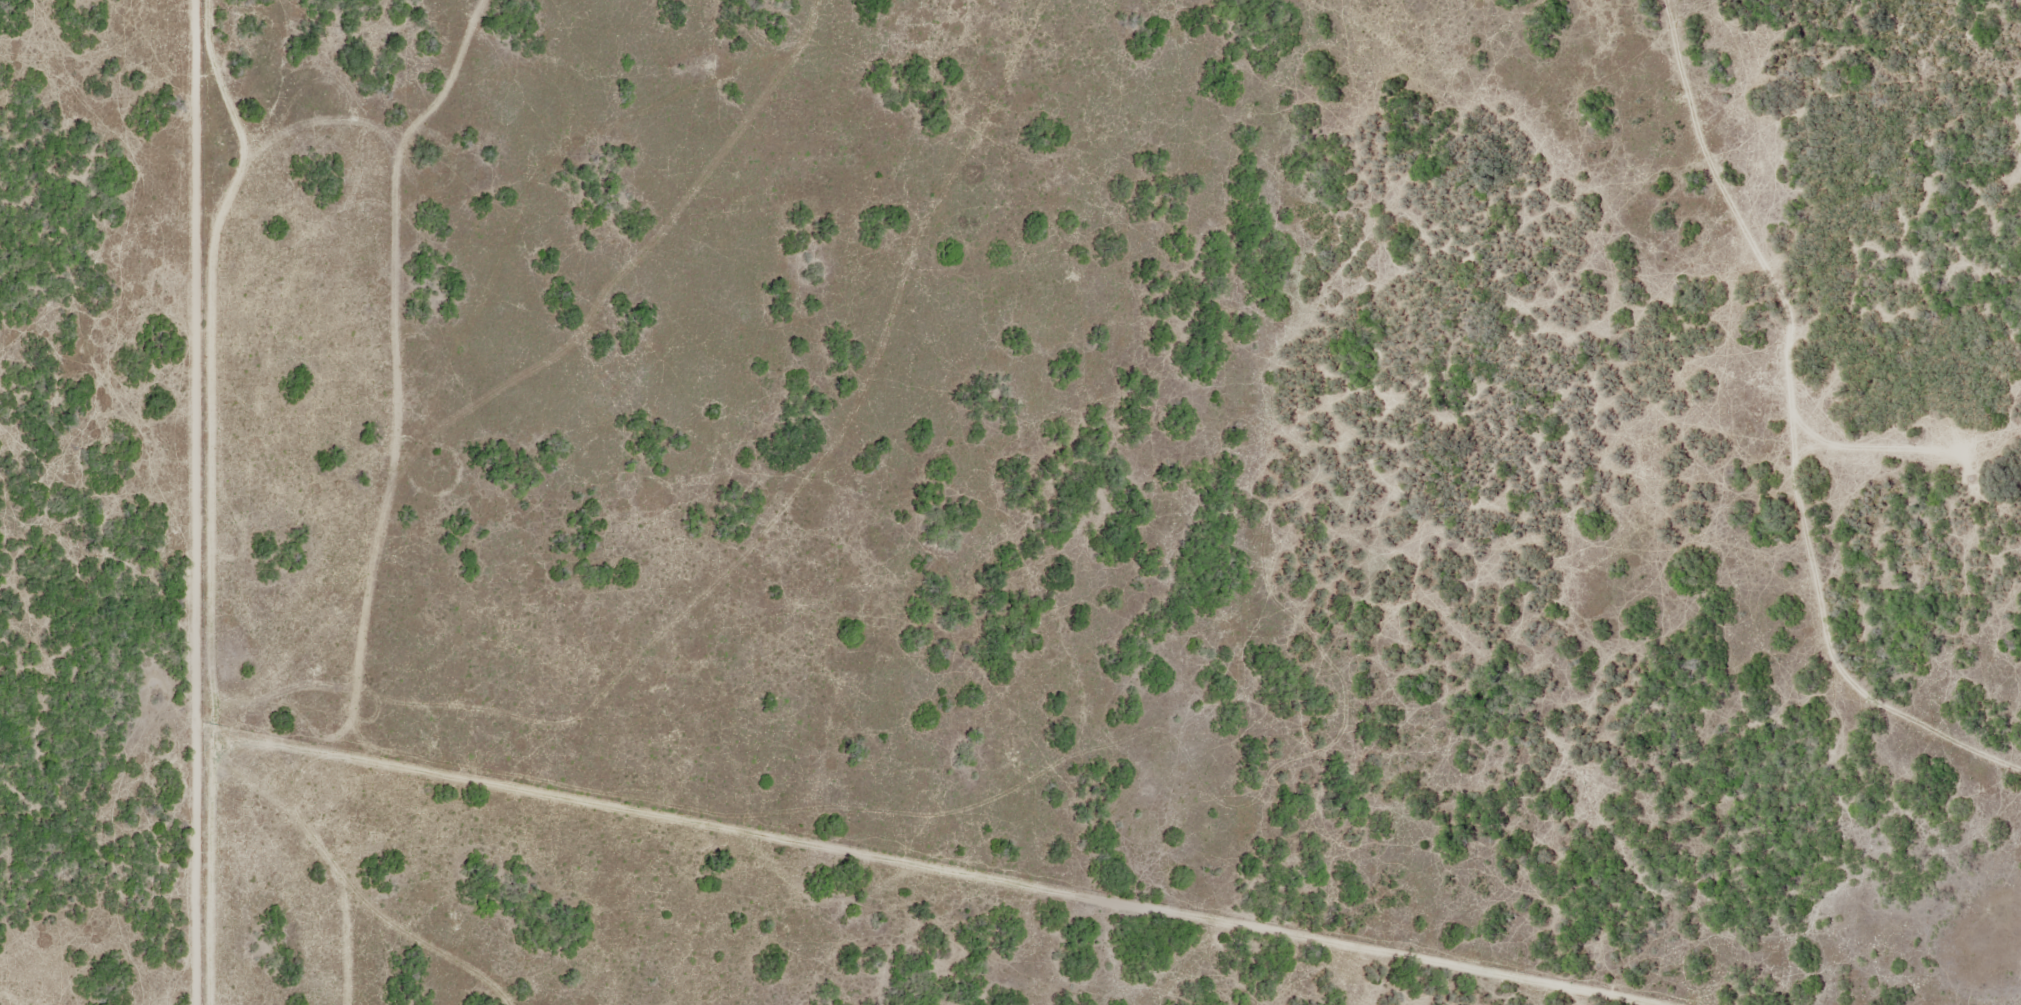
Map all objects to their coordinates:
road: (1803, 421)
road: (1912, 435)

